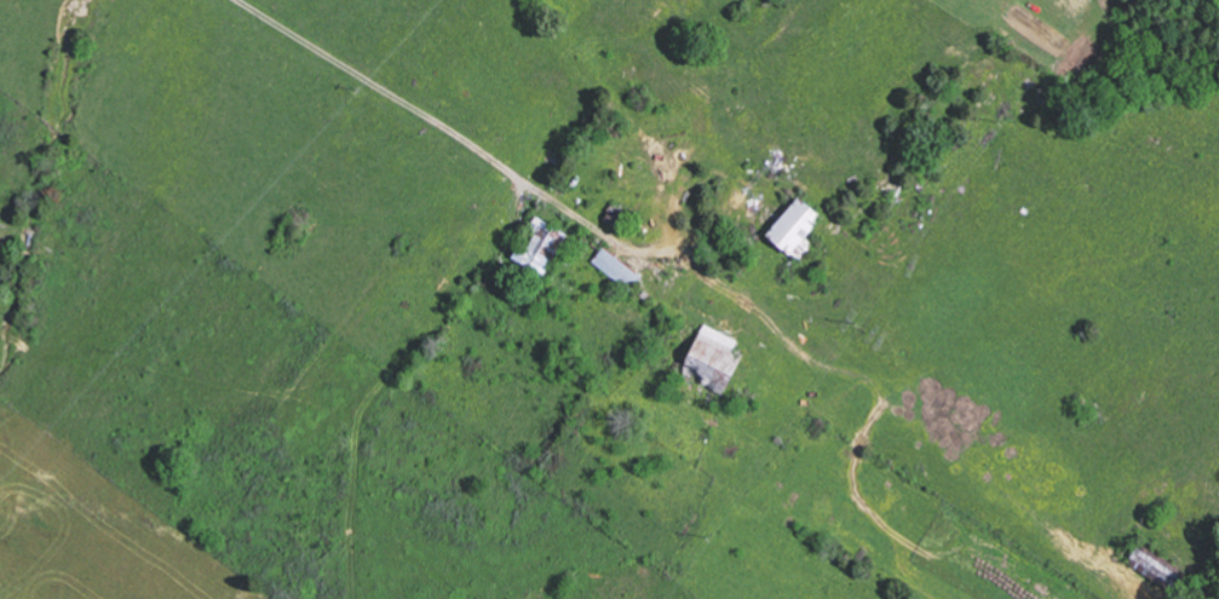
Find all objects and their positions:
road: (369, 131)
building: (800, 229)
building: (545, 247)
building: (619, 267)
building: (719, 359)
building: (1158, 569)

